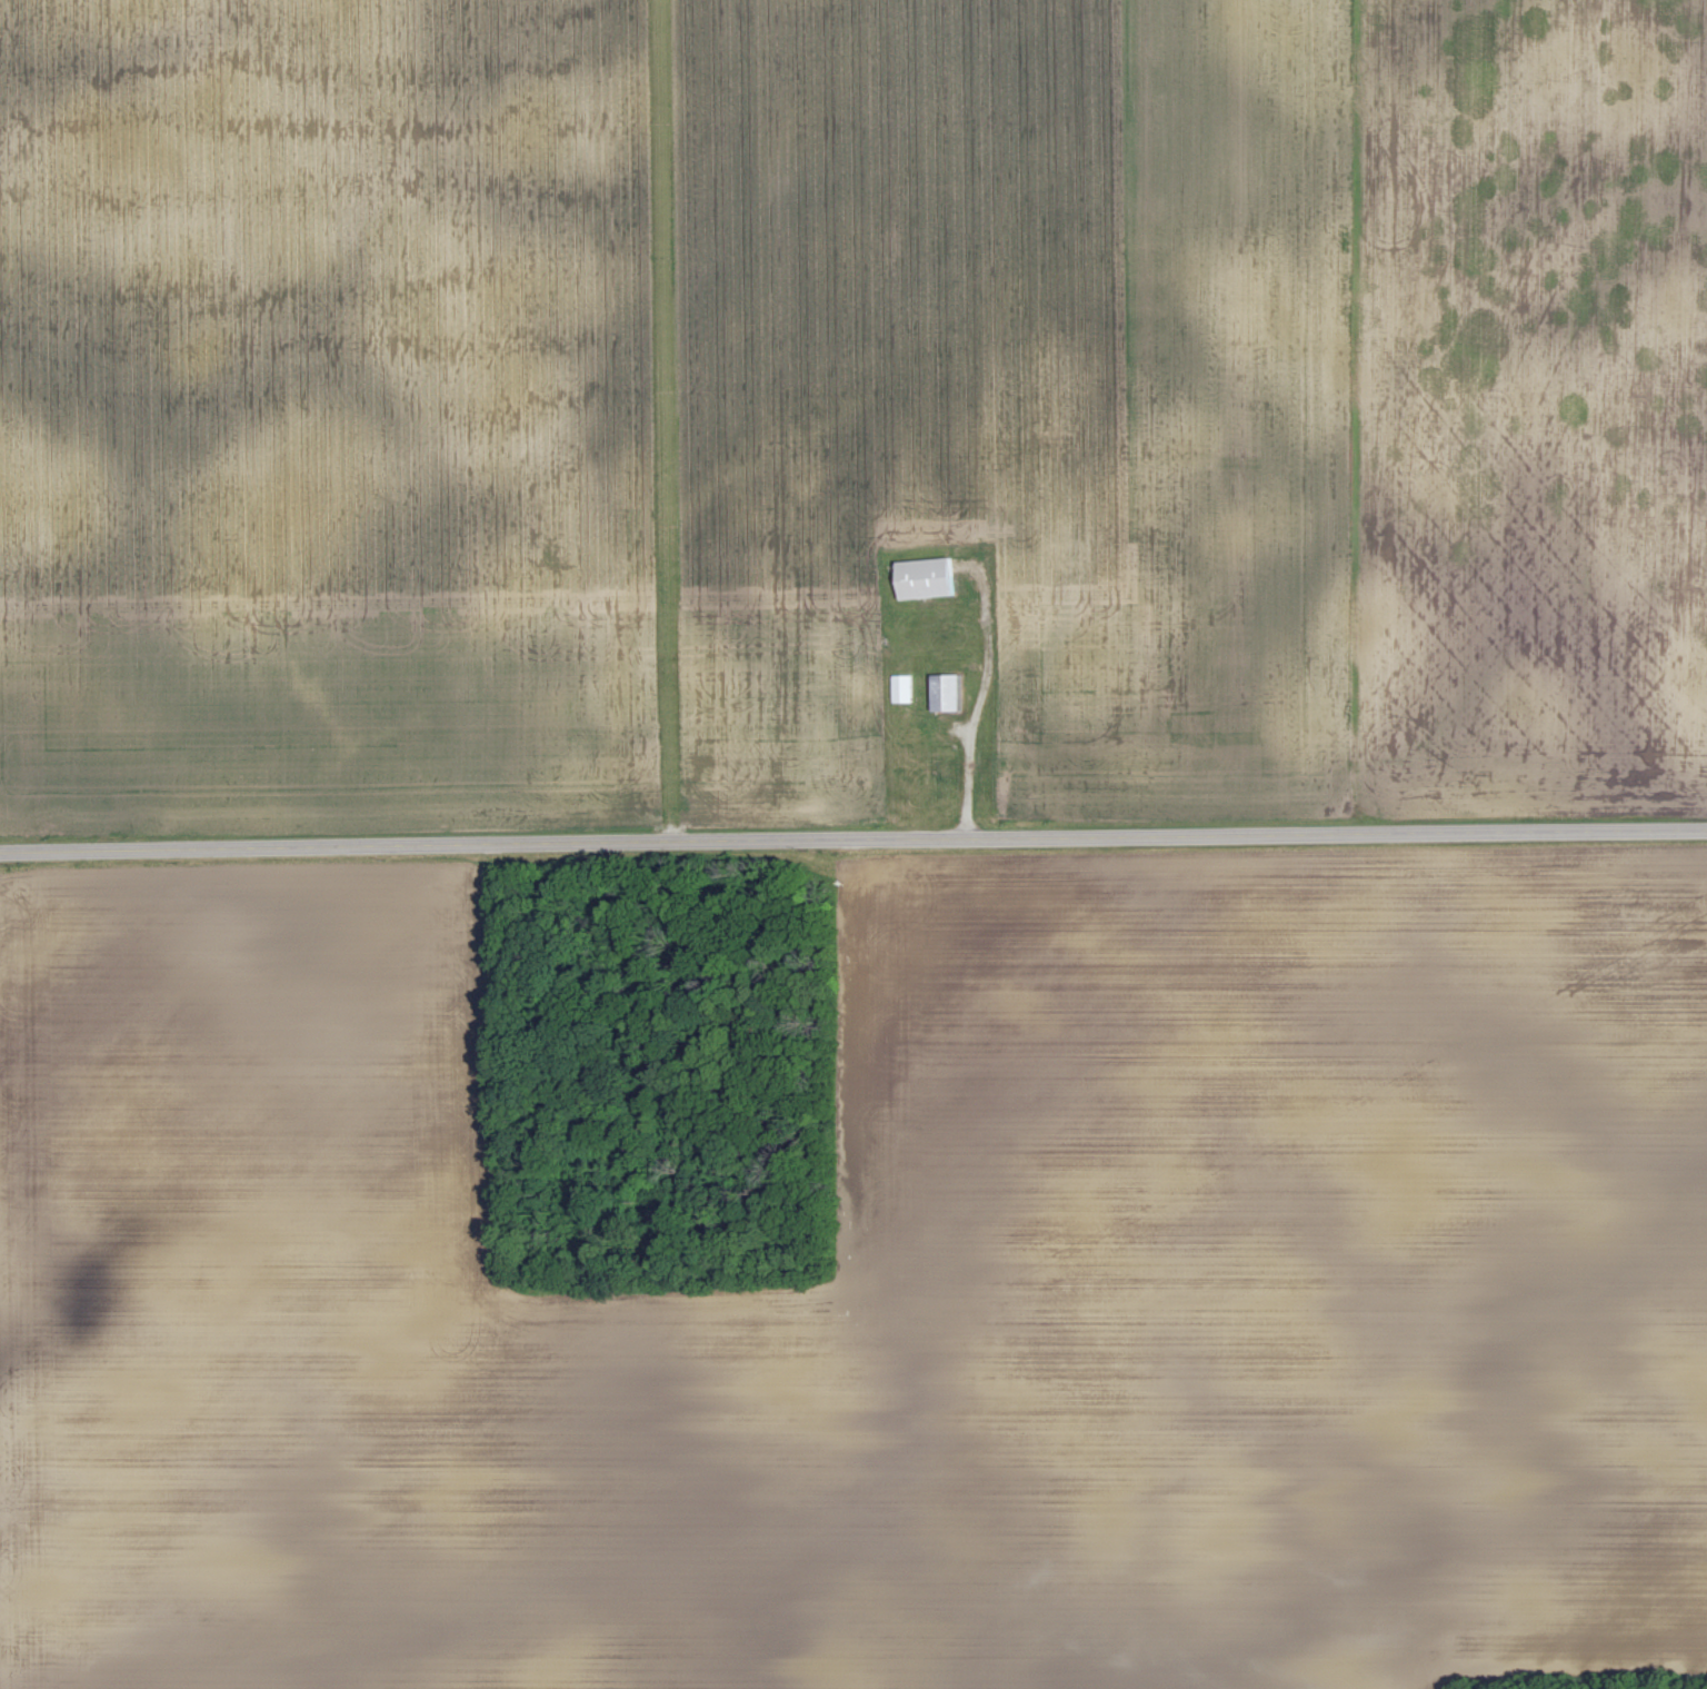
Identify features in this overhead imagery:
building: (924, 578)
building: (901, 688)
building: (945, 692)
road: (979, 701)
road: (852, 839)

